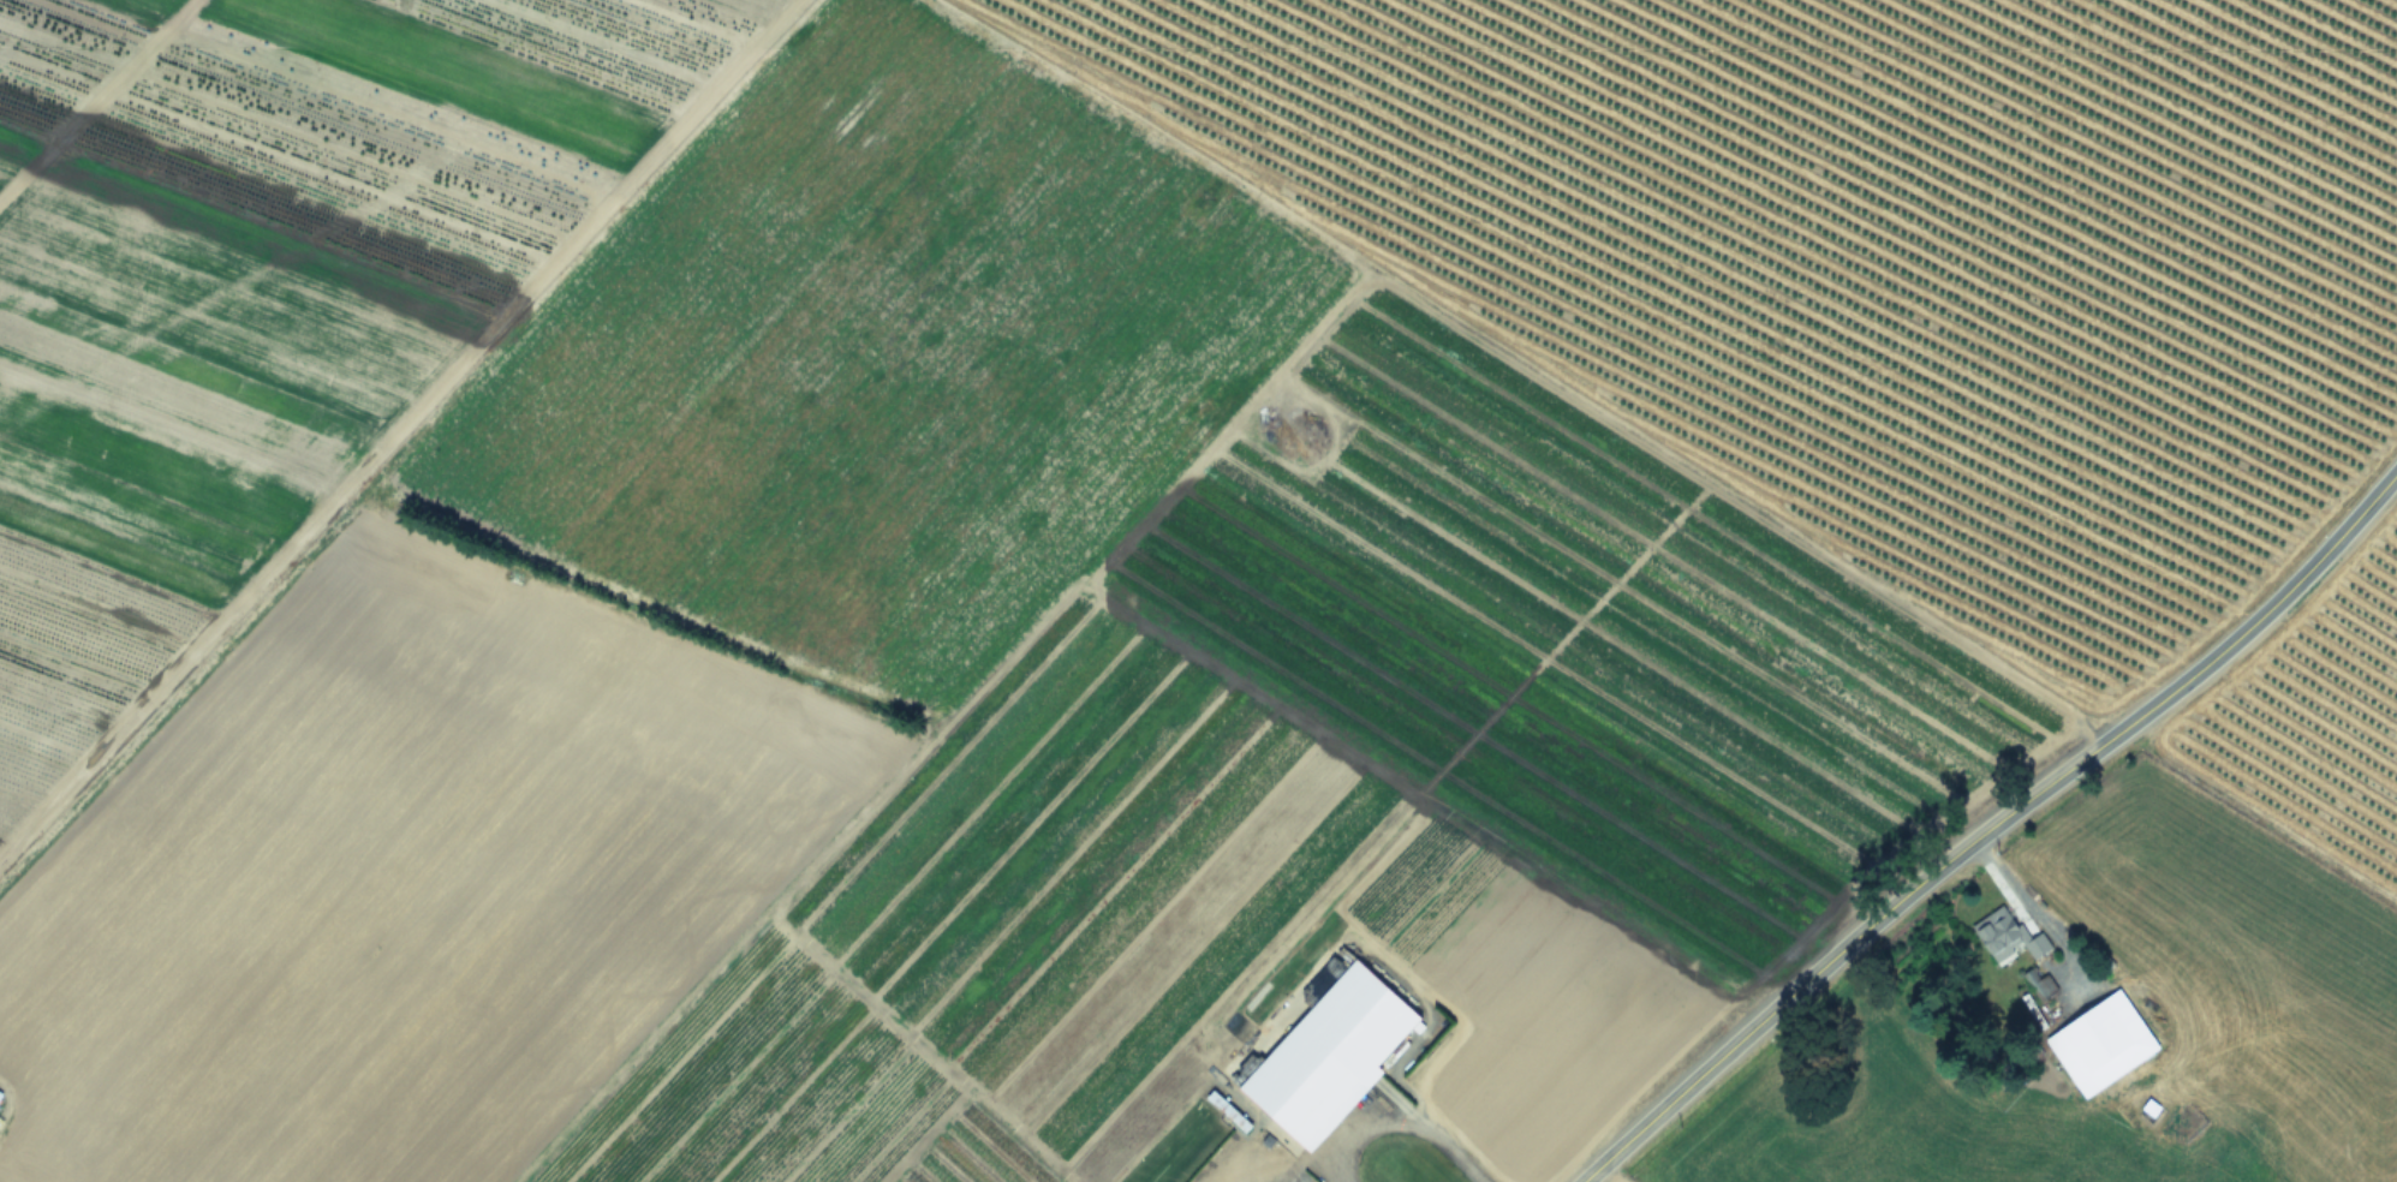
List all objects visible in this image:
crop: (1084, 547)
road: (1992, 826)
road: (2029, 908)
building: (2008, 936)
crop: (2139, 967)
building: (2104, 1046)
building: (1334, 1057)
building: (0, 1097)
road: (1396, 1118)

